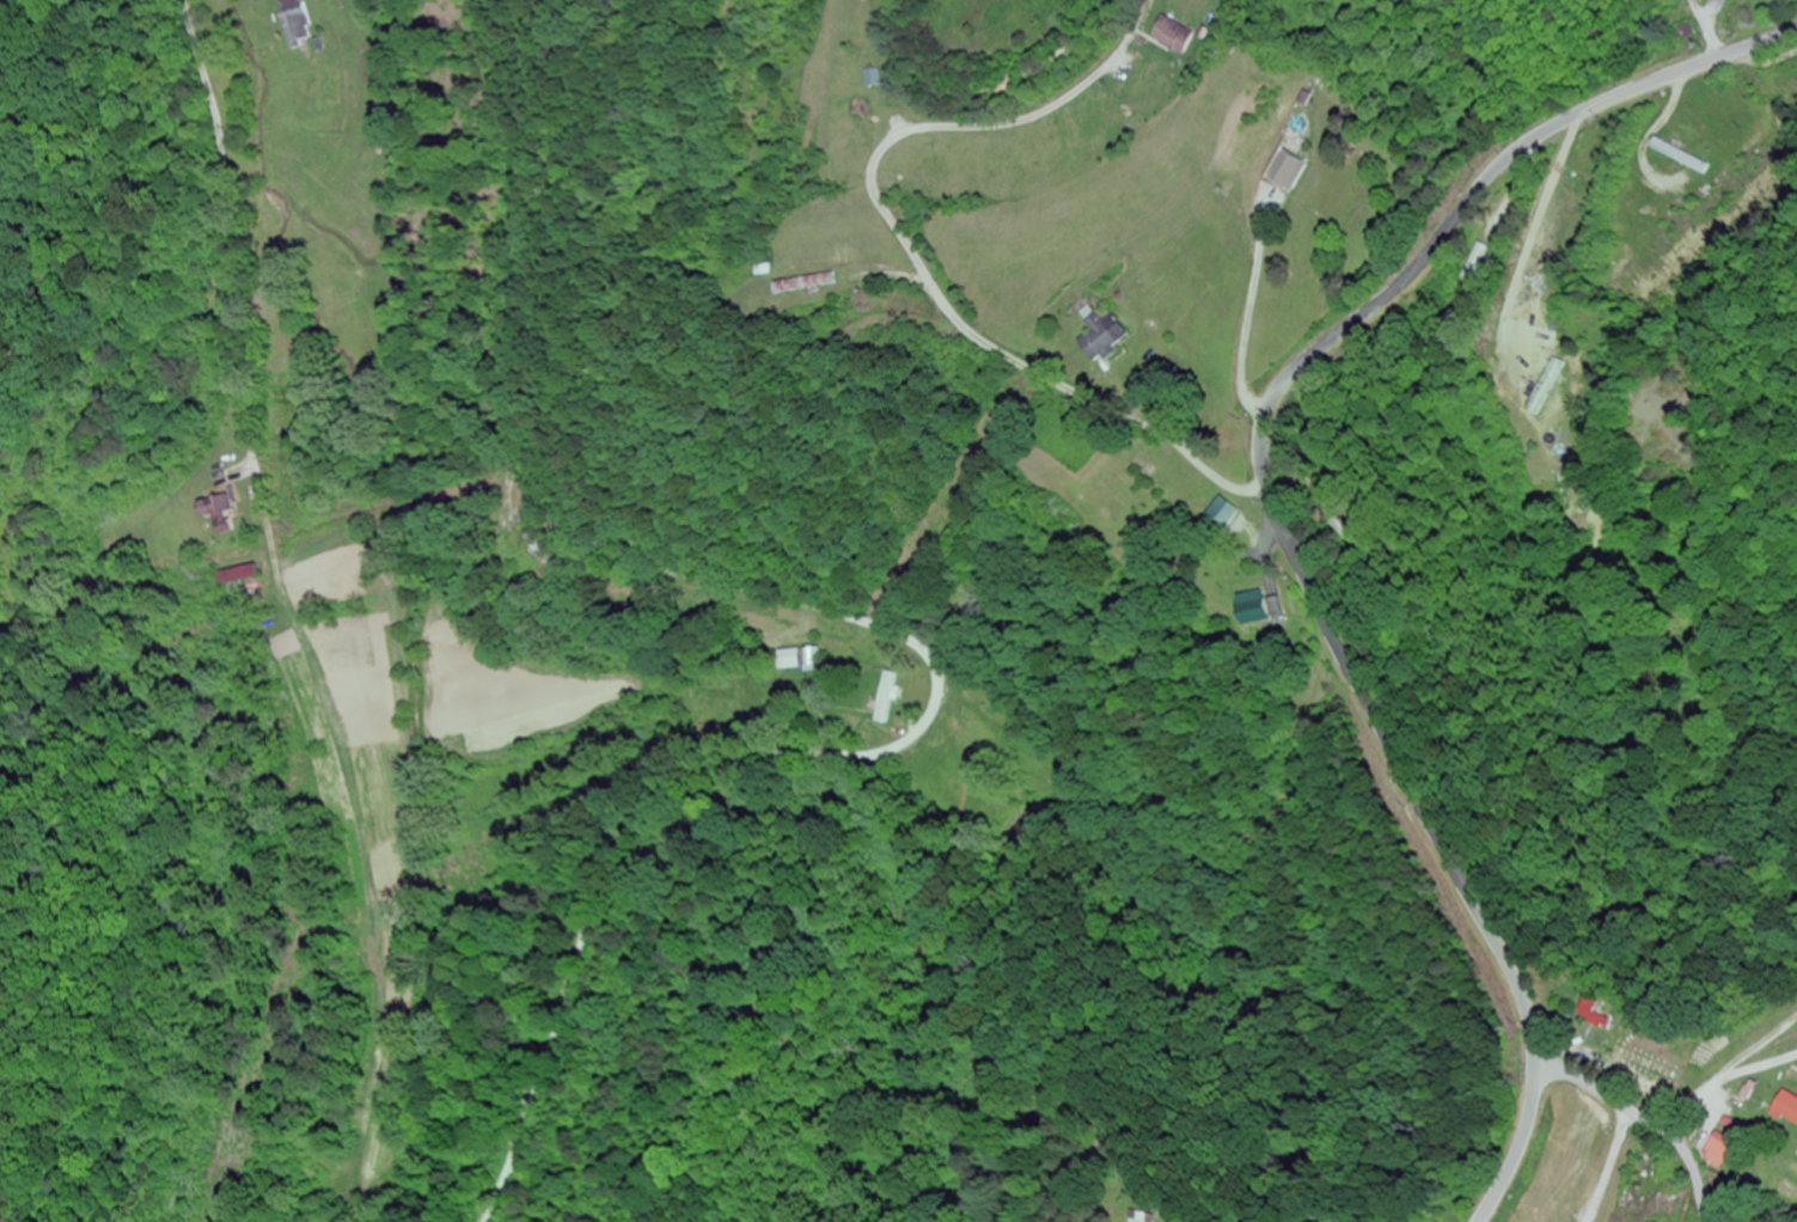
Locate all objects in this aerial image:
building: (292, 20)
building: (1174, 37)
building: (1790, 85)
building: (1680, 157)
building: (1294, 173)
building: (1484, 261)
road: (928, 279)
building: (806, 283)
building: (1106, 334)
road: (233, 349)
road: (1374, 442)
road: (255, 453)
road: (549, 507)
road: (1278, 518)
building: (1231, 523)
building: (1254, 609)
building: (797, 660)
building: (886, 697)
building: (1632, 1063)
building: (1747, 1092)
building: (1786, 1107)
road: (1744, 1111)
road: (1646, 1117)
building: (1719, 1151)
building: (1151, 1217)

